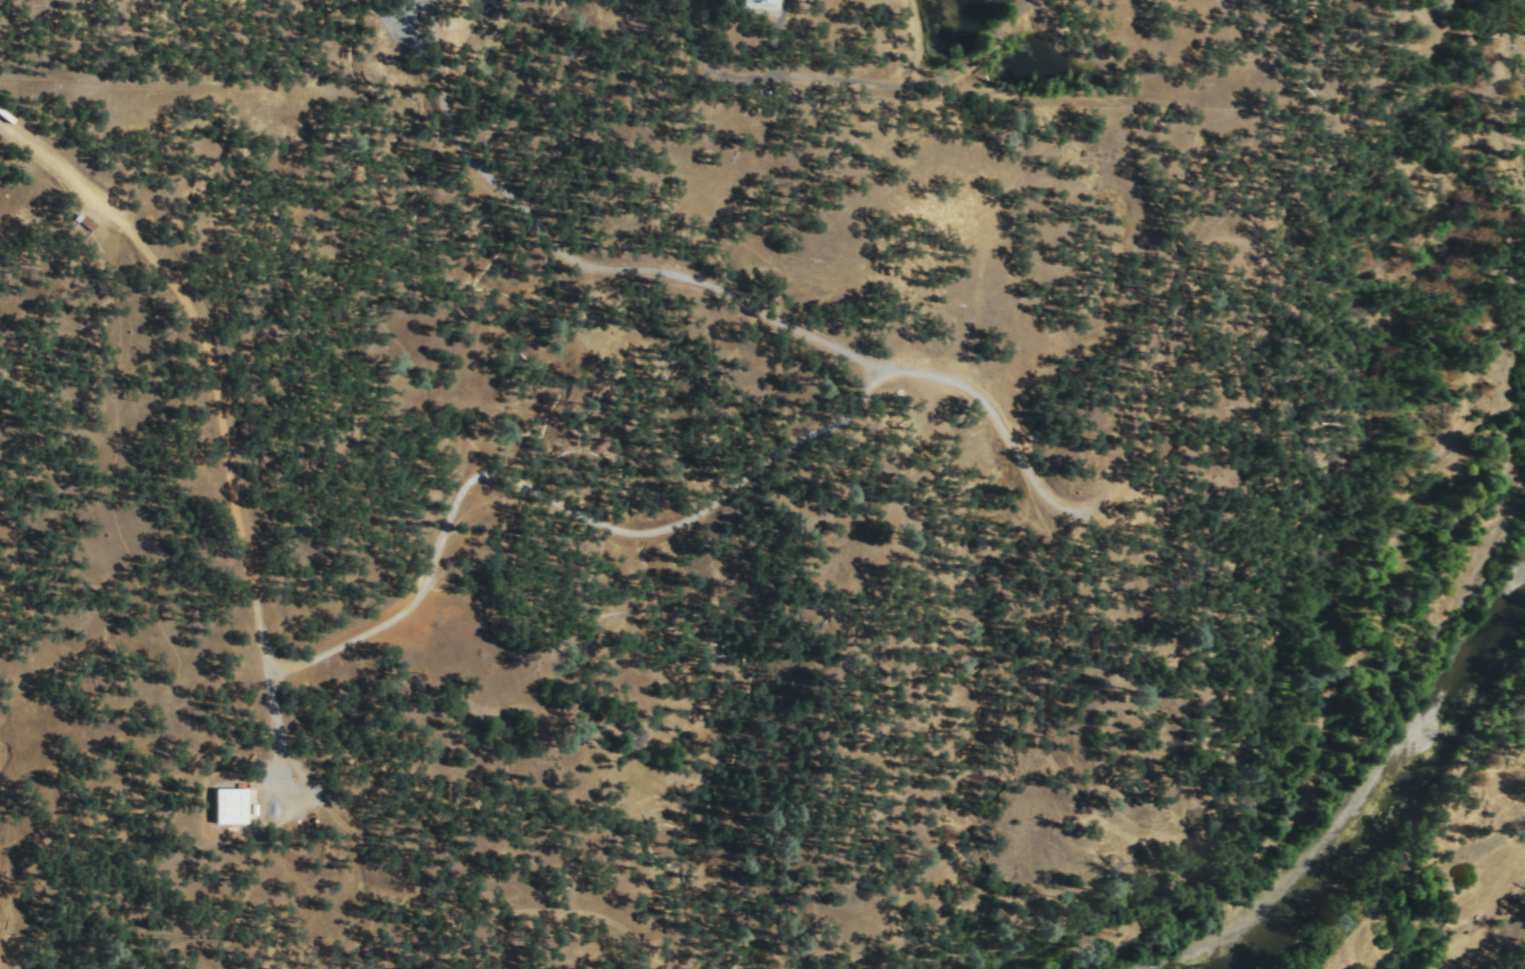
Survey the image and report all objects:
building: (758, 3)
road: (774, 36)
road: (771, 74)
road: (711, 286)
road: (221, 418)
road: (552, 499)
river: (1381, 791)
building: (228, 805)
road: (464, 887)
road: (243, 898)

